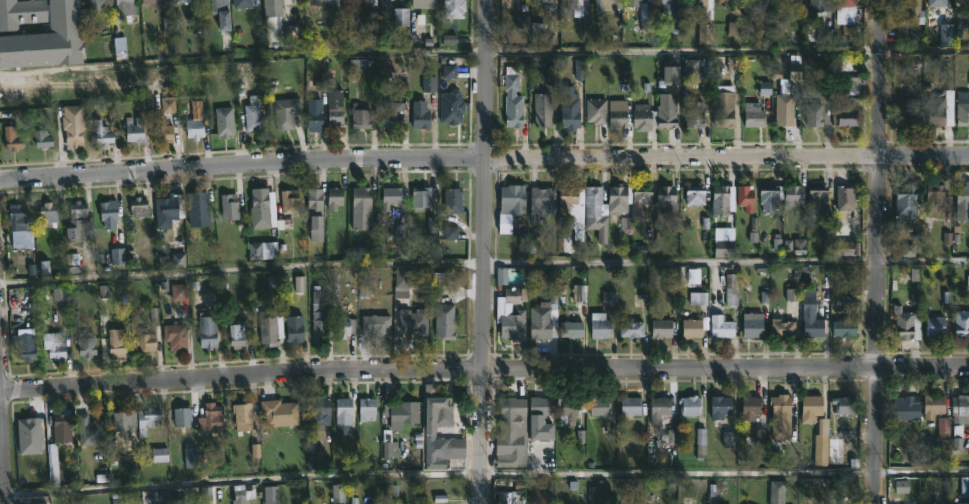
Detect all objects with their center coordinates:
building: (185, 1)
building: (603, 1)
building: (635, 1)
building: (151, 2)
building: (362, 2)
building: (725, 2)
building: (757, 2)
building: (787, 2)
building: (935, 2)
building: (244, 3)
building: (544, 3)
building: (665, 3)
building: (698, 3)
building: (844, 3)
building: (96, 4)
building: (424, 4)
building: (570, 4)
building: (330, 5)
building: (384, 5)
building: (817, 5)
building: (270, 7)
building: (908, 7)
building: (453, 9)
building: (125, 11)
building: (217, 11)
building: (20, 12)
building: (402, 18)
building: (45, 39)
road: (484, 53)
building: (511, 97)
building: (939, 101)
building: (723, 106)
building: (334, 107)
building: (785, 108)
building: (847, 108)
building: (909, 109)
building: (963, 109)
building: (542, 110)
building: (569, 110)
building: (666, 110)
building: (596, 111)
building: (616, 113)
building: (292, 115)
building: (313, 115)
building: (394, 115)
building: (420, 115)
building: (753, 115)
building: (813, 115)
building: (641, 116)
building: (693, 116)
building: (360, 117)
building: (253, 118)
building: (223, 124)
building: (74, 127)
building: (192, 128)
building: (161, 129)
building: (133, 130)
building: (101, 133)
building: (11, 138)
building: (44, 140)
road: (484, 158)
building: (567, 195)
building: (641, 195)
building: (792, 195)
building: (693, 196)
building: (389, 197)
building: (744, 197)
building: (768, 197)
building: (333, 198)
building: (420, 198)
building: (817, 198)
building: (845, 198)
building: (618, 199)
building: (665, 199)
building: (452, 200)
building: (722, 200)
building: (936, 200)
building: (313, 201)
building: (962, 201)
building: (289, 202)
building: (906, 202)
building: (541, 203)
building: (137, 207)
building: (199, 207)
building: (228, 207)
building: (360, 207)
building: (509, 207)
building: (261, 208)
building: (168, 210)
building: (595, 213)
building: (45, 214)
building: (108, 214)
building: (74, 222)
building: (19, 227)
building: (723, 242)
building: (262, 251)
road: (878, 251)
road: (485, 252)
road: (484, 261)
building: (401, 283)
building: (731, 290)
building: (503, 311)
building: (810, 316)
building: (543, 319)
building: (413, 321)
building: (444, 321)
building: (319, 322)
building: (719, 322)
building: (375, 324)
building: (906, 324)
building: (962, 324)
building: (599, 325)
building: (751, 325)
building: (269, 327)
building: (782, 327)
building: (844, 327)
building: (935, 327)
building: (294, 328)
building: (660, 328)
building: (344, 329)
building: (570, 329)
building: (631, 329)
building: (691, 329)
building: (206, 331)
building: (237, 335)
building: (175, 336)
building: (144, 340)
building: (115, 343)
building: (53, 344)
building: (85, 344)
building: (25, 345)
road: (484, 368)
building: (781, 403)
building: (844, 404)
building: (570, 405)
building: (631, 405)
building: (689, 405)
building: (720, 406)
building: (906, 406)
building: (932, 406)
building: (600, 407)
building: (658, 407)
building: (750, 407)
building: (366, 408)
building: (810, 408)
building: (960, 409)
building: (343, 410)
building: (278, 412)
building: (319, 412)
building: (508, 412)
building: (403, 413)
building: (242, 414)
building: (182, 416)
building: (210, 416)
building: (539, 418)
building: (146, 419)
building: (124, 424)
building: (59, 428)
building: (89, 430)
building: (428, 431)
building: (508, 444)
road: (3, 447)
building: (52, 464)
road: (484, 475)
building: (512, 494)
building: (338, 495)
building: (389, 501)
building: (962, 503)

